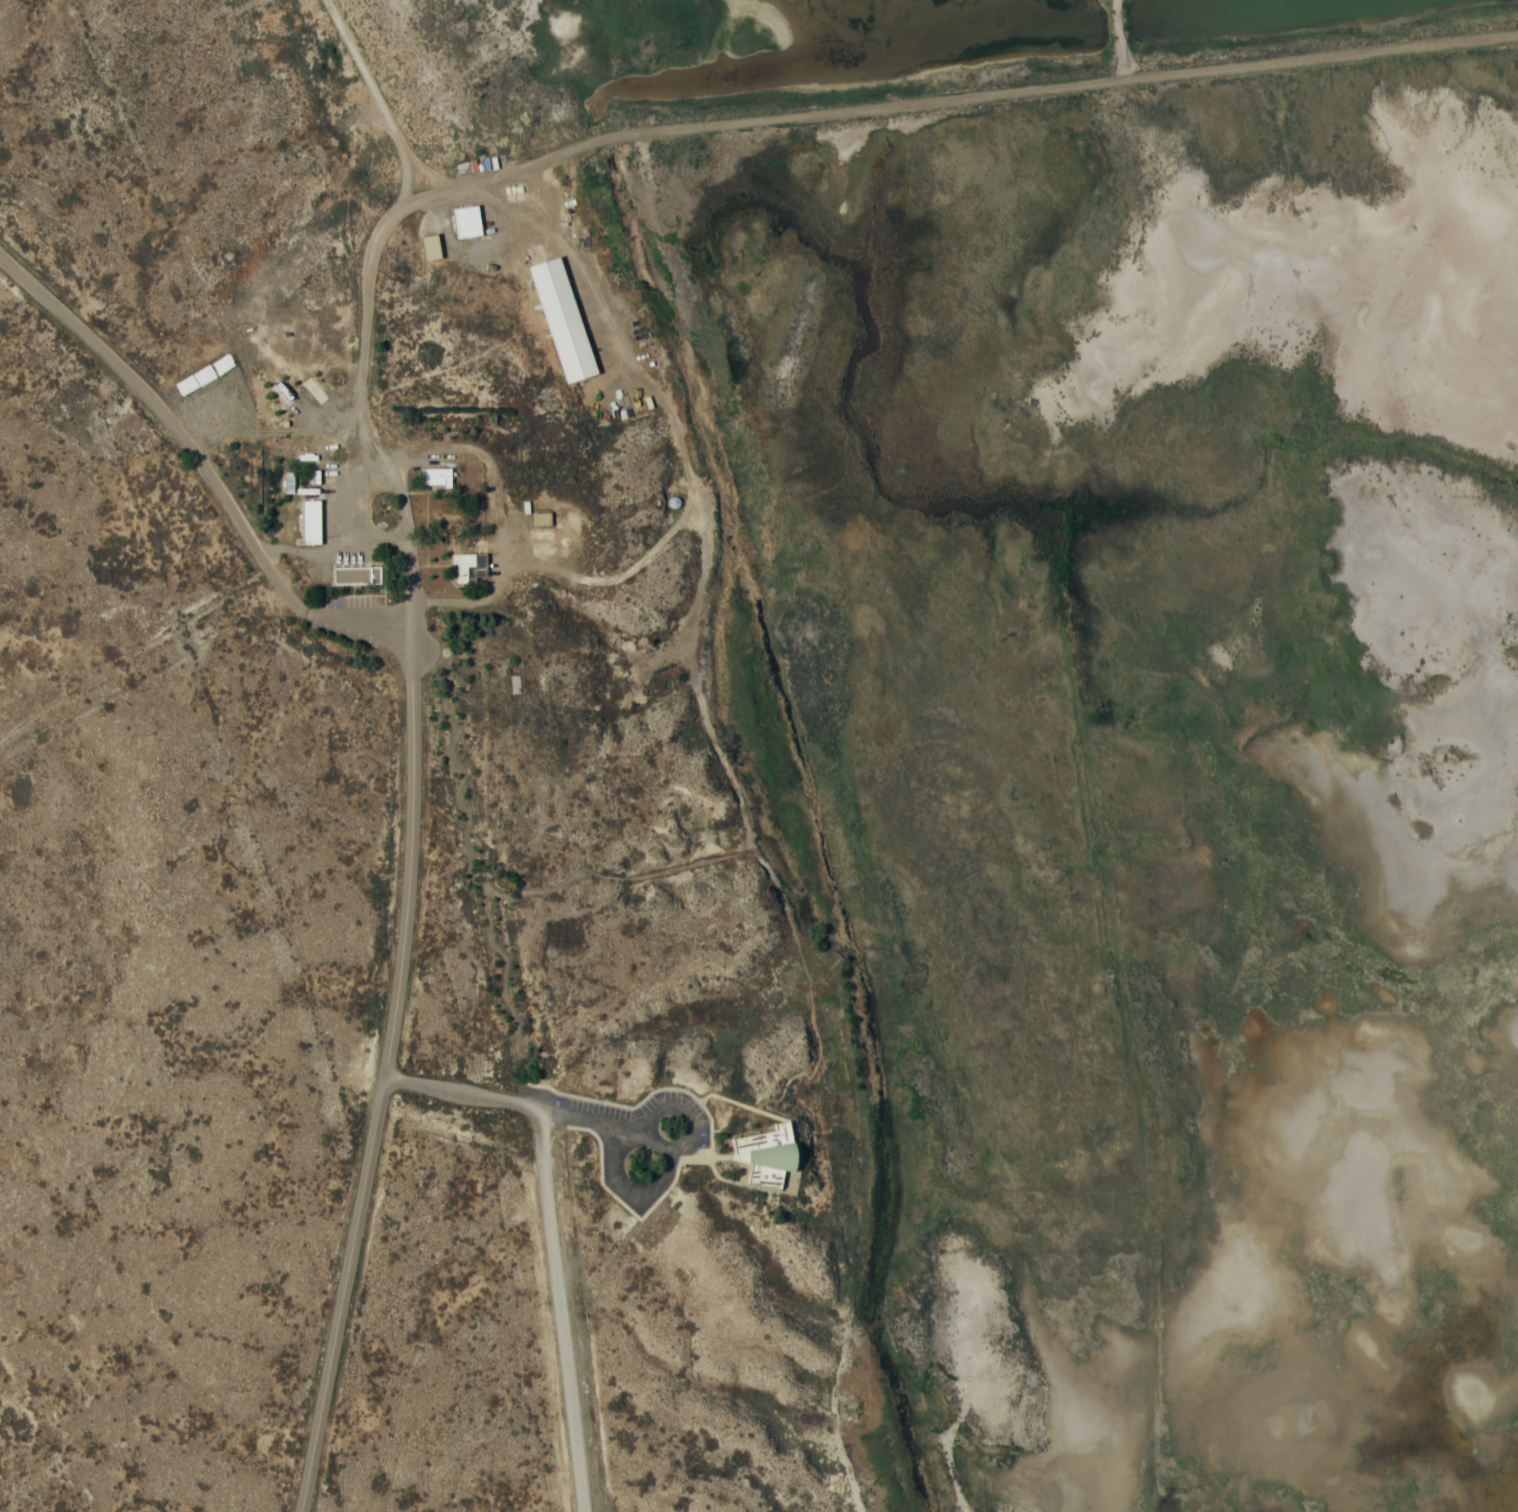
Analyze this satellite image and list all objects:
road: (962, 114)
building: (468, 220)
road: (368, 312)
building: (563, 319)
road: (199, 446)
building: (438, 475)
building: (543, 517)
building: (311, 520)
building: (468, 565)
building: (357, 574)
road: (475, 874)
road: (618, 882)
road: (386, 1078)
road: (739, 1107)
parking lot: (636, 1141)
building: (772, 1160)
road: (717, 1174)
road: (553, 1237)

